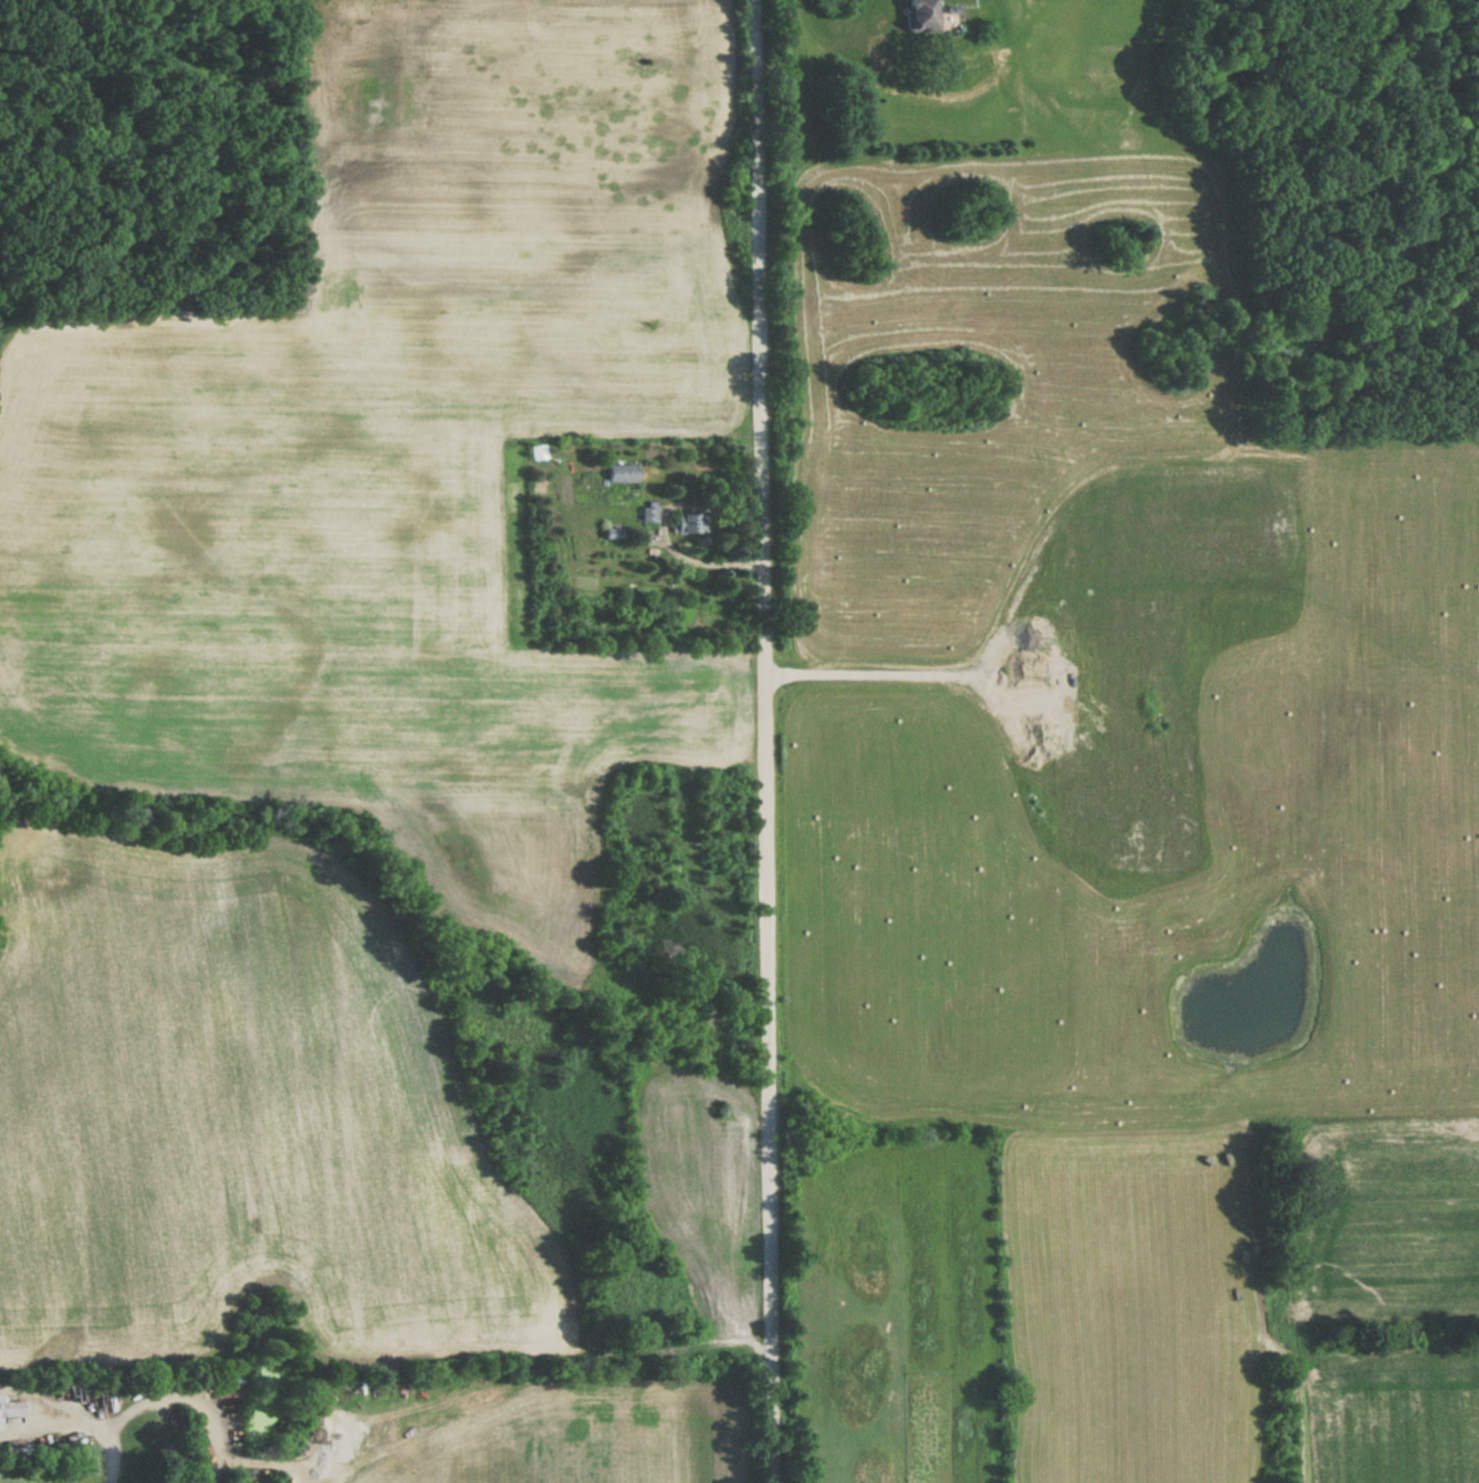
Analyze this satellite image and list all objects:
building: (921, 15)
building: (622, 473)
building: (648, 515)
building: (689, 522)
road: (765, 741)
building: (10, 1408)
road: (78, 1420)

